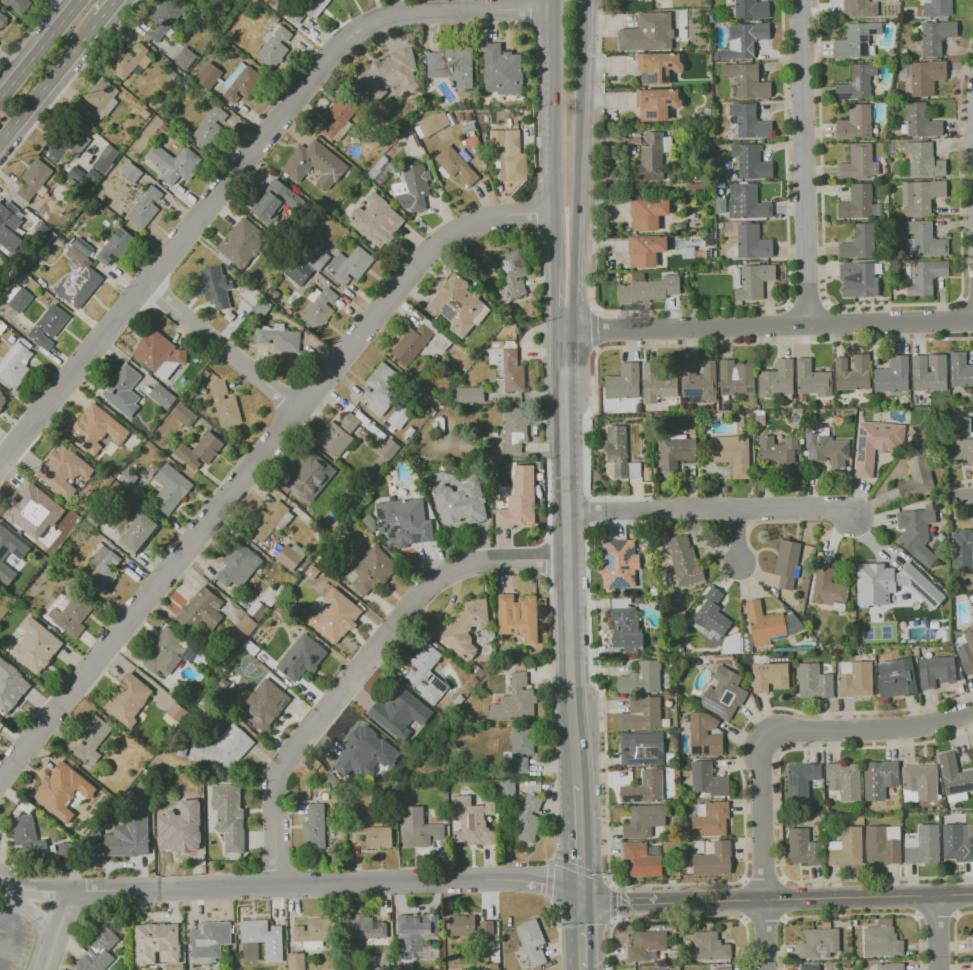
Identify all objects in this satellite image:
building: (194, 0)
building: (17, 4)
building: (938, 8)
road: (105, 9)
building: (304, 9)
building: (749, 9)
building: (859, 9)
road: (530, 15)
building: (2, 18)
building: (162, 19)
building: (649, 32)
building: (937, 36)
building: (745, 40)
building: (857, 40)
building: (273, 45)
road: (38, 47)
building: (184, 57)
building: (128, 60)
building: (450, 64)
building: (658, 67)
building: (501, 70)
building: (388, 74)
building: (208, 75)
building: (924, 76)
road: (49, 78)
building: (747, 81)
building: (239, 82)
road: (67, 83)
building: (858, 83)
building: (99, 100)
building: (657, 103)
building: (706, 115)
building: (339, 117)
building: (750, 121)
building: (922, 121)
building: (433, 122)
building: (856, 123)
building: (209, 127)
road: (553, 133)
building: (696, 139)
building: (64, 146)
building: (507, 156)
building: (654, 156)
building: (105, 158)
building: (924, 159)
building: (752, 161)
road: (805, 161)
building: (173, 163)
building: (859, 163)
building: (314, 164)
building: (454, 164)
road: (575, 165)
building: (938, 177)
building: (32, 178)
road: (240, 178)
building: (412, 188)
building: (697, 189)
building: (921, 196)
building: (274, 200)
building: (748, 202)
building: (860, 203)
building: (144, 206)
building: (719, 207)
building: (649, 213)
building: (697, 216)
building: (376, 220)
building: (8, 226)
building: (681, 227)
building: (686, 234)
building: (927, 239)
building: (753, 242)
building: (860, 242)
building: (240, 244)
building: (114, 245)
building: (646, 249)
rooftop solar panel: (518, 263)
building: (307, 265)
building: (349, 265)
rooftop solar panel: (504, 265)
building: (513, 271)
building: (78, 275)
building: (925, 276)
building: (860, 279)
building: (752, 280)
building: (215, 286)
building: (650, 289)
building: (17, 298)
road: (553, 299)
road: (966, 299)
building: (456, 305)
road: (807, 306)
road: (874, 306)
building: (319, 307)
road: (594, 309)
road: (690, 310)
rooftop solar panel: (447, 312)
road: (767, 325)
building: (47, 326)
road: (594, 328)
building: (278, 337)
building: (412, 342)
road: (756, 344)
road: (232, 345)
road: (596, 347)
building: (157, 353)
building: (507, 363)
building: (15, 364)
building: (961, 369)
building: (930, 373)
building: (854, 374)
building: (894, 375)
building: (737, 378)
building: (813, 379)
building: (700, 381)
building: (777, 381)
building: (624, 382)
building: (659, 383)
building: (378, 388)
building: (122, 390)
rooftop solar panel: (694, 392)
building: (469, 394)
building: (161, 395)
building: (2, 397)
building: (802, 397)
building: (224, 404)
building: (807, 412)
building: (183, 414)
building: (737, 414)
building: (399, 416)
building: (760, 419)
building: (349, 422)
building: (95, 428)
building: (514, 428)
building: (333, 438)
building: (961, 439)
building: (876, 441)
building: (802, 443)
building: (388, 448)
building: (828, 449)
building: (198, 450)
building: (621, 453)
building: (676, 453)
building: (733, 454)
building: (781, 454)
road: (260, 464)
building: (63, 470)
building: (656, 470)
building: (918, 473)
building: (649, 475)
building: (308, 476)
road: (963, 481)
building: (169, 488)
building: (519, 498)
road: (967, 499)
building: (459, 502)
road: (709, 509)
road: (587, 510)
rooftop solar panel: (381, 512)
road: (962, 517)
building: (266, 521)
rooftop solar panel: (380, 521)
building: (403, 521)
rooftop solar panel: (394, 528)
building: (138, 532)
building: (917, 533)
road: (739, 536)
rooftop solar panel: (618, 544)
building: (962, 551)
rooftop solar panel: (628, 554)
building: (19, 555)
building: (289, 555)
road: (564, 556)
rooftop solar panel: (609, 559)
building: (685, 561)
building: (620, 563)
building: (788, 563)
building: (237, 565)
rooftop solar panel: (625, 566)
building: (102, 568)
building: (371, 570)
rooftop solar panel: (608, 577)
rooftop solar panel: (634, 577)
rooftop solar panel: (622, 580)
building: (891, 584)
building: (829, 587)
building: (655, 591)
building: (639, 600)
building: (200, 610)
building: (70, 615)
building: (333, 616)
building: (518, 616)
building: (711, 616)
building: (765, 623)
building: (794, 624)
building: (463, 626)
building: (627, 630)
building: (732, 644)
building: (35, 645)
building: (747, 645)
building: (669, 646)
building: (967, 649)
building: (871, 650)
building: (164, 652)
building: (300, 657)
building: (937, 671)
road: (365, 673)
building: (425, 673)
building: (770, 676)
rooftop solar panel: (431, 678)
building: (642, 678)
building: (897, 678)
building: (855, 679)
building: (815, 681)
rooftop solar panel: (440, 683)
building: (10, 686)
building: (725, 693)
building: (679, 698)
building: (128, 699)
building: (515, 699)
building: (263, 704)
rooftop solar panel: (280, 704)
rooftop solar panel: (711, 705)
building: (174, 711)
building: (642, 714)
rooftop solar panel: (255, 722)
road: (553, 726)
road: (871, 729)
building: (671, 735)
building: (705, 736)
building: (91, 740)
building: (520, 747)
rooftop solar panel: (694, 747)
building: (224, 748)
building: (643, 748)
rooftop solar panel: (706, 748)
building: (365, 753)
rooftop solar panel: (635, 761)
building: (685, 763)
building: (955, 777)
building: (880, 778)
building: (709, 780)
building: (802, 780)
building: (844, 781)
building: (922, 781)
building: (506, 786)
building: (645, 788)
rooftop solar panel: (962, 788)
building: (61, 790)
building: (193, 805)
building: (827, 808)
building: (860, 808)
road: (779, 814)
building: (228, 815)
building: (711, 818)
road: (762, 818)
building: (528, 819)
building: (644, 820)
building: (828, 820)
building: (471, 821)
building: (313, 826)
building: (418, 828)
building: (128, 836)
building: (28, 837)
road: (578, 839)
building: (176, 841)
building: (958, 841)
building: (884, 843)
building: (924, 845)
building: (847, 846)
building: (805, 847)
building: (66, 849)
building: (714, 859)
building: (642, 860)
road: (560, 861)
road: (764, 881)
road: (730, 882)
road: (325, 888)
road: (12, 891)
road: (31, 891)
traffic signals: (579, 896)
road: (955, 896)
road: (919, 897)
road: (819, 898)
road: (783, 899)
road: (746, 900)
road: (622, 904)
road: (614, 905)
road: (12, 912)
road: (63, 912)
road: (851, 915)
road: (681, 916)
road: (937, 916)
road: (39, 918)
road: (764, 919)
road: (1, 920)
building: (827, 924)
building: (469, 925)
building: (364, 927)
building: (674, 928)
building: (312, 932)
road: (580, 932)
road: (937, 932)
building: (415, 933)
road: (765, 935)
road: (955, 935)
road: (13, 938)
parking lot: (15, 939)
building: (208, 939)
building: (260, 940)
building: (882, 940)
building: (531, 941)
building: (155, 942)
building: (821, 943)
building: (972, 944)
building: (647, 945)
building: (708, 946)
road: (50, 951)
building: (295, 961)
building: (848, 964)
building: (972, 965)
building: (891, 966)
building: (810, 967)
road: (581, 969)
building: (653, 969)
building: (724, 969)

